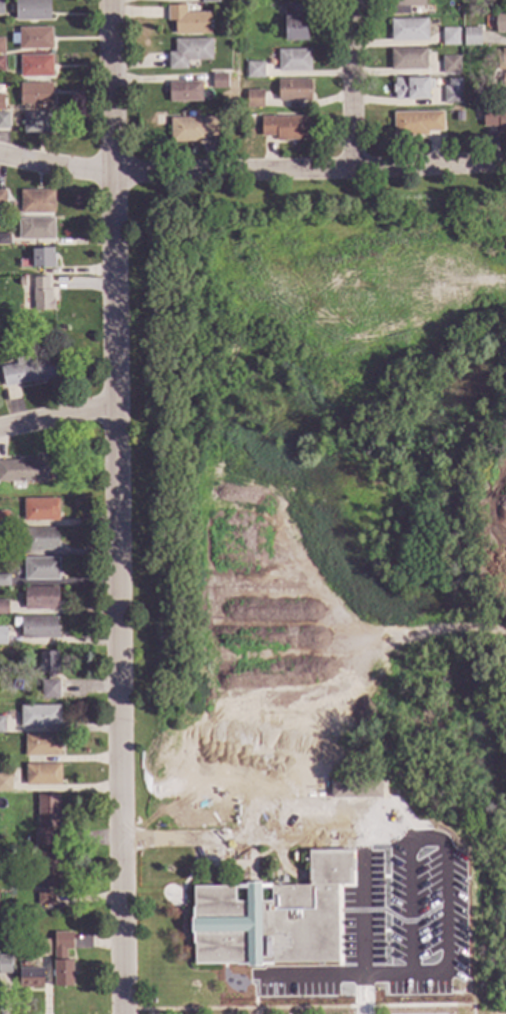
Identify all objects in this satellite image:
building: (209, 1)
building: (404, 6)
building: (1, 8)
building: (31, 10)
building: (188, 21)
building: (295, 23)
building: (500, 23)
building: (408, 31)
building: (450, 38)
building: (471, 38)
building: (32, 39)
building: (1, 47)
building: (188, 53)
building: (505, 58)
building: (407, 60)
building: (293, 61)
building: (2, 65)
building: (450, 66)
building: (35, 67)
building: (254, 71)
building: (504, 80)
building: (219, 81)
road: (352, 85)
building: (411, 88)
building: (293, 91)
building: (184, 92)
building: (452, 92)
building: (34, 94)
building: (503, 95)
building: (253, 100)
building: (2, 103)
building: (223, 113)
building: (494, 119)
building: (4, 121)
building: (37, 123)
building: (416, 124)
building: (285, 128)
building: (193, 130)
road: (252, 170)
building: (2, 200)
building: (37, 202)
building: (35, 230)
building: (4, 240)
building: (38, 259)
building: (41, 295)
building: (28, 372)
road: (59, 417)
building: (26, 470)
road: (119, 506)
building: (40, 511)
building: (3, 520)
building: (40, 540)
building: (8, 551)
building: (40, 569)
building: (4, 581)
building: (40, 599)
building: (3, 609)
building: (39, 628)
building: (3, 636)
building: (48, 664)
building: (49, 690)
building: (39, 716)
building: (1, 725)
building: (42, 746)
building: (42, 775)
building: (5, 784)
building: (345, 788)
building: (366, 789)
road: (318, 808)
building: (46, 820)
road: (380, 841)
road: (328, 842)
building: (49, 871)
parking lot: (387, 897)
building: (45, 899)
road: (444, 909)
building: (271, 917)
road: (400, 927)
building: (41, 948)
building: (61, 960)
building: (5, 965)
building: (29, 977)

